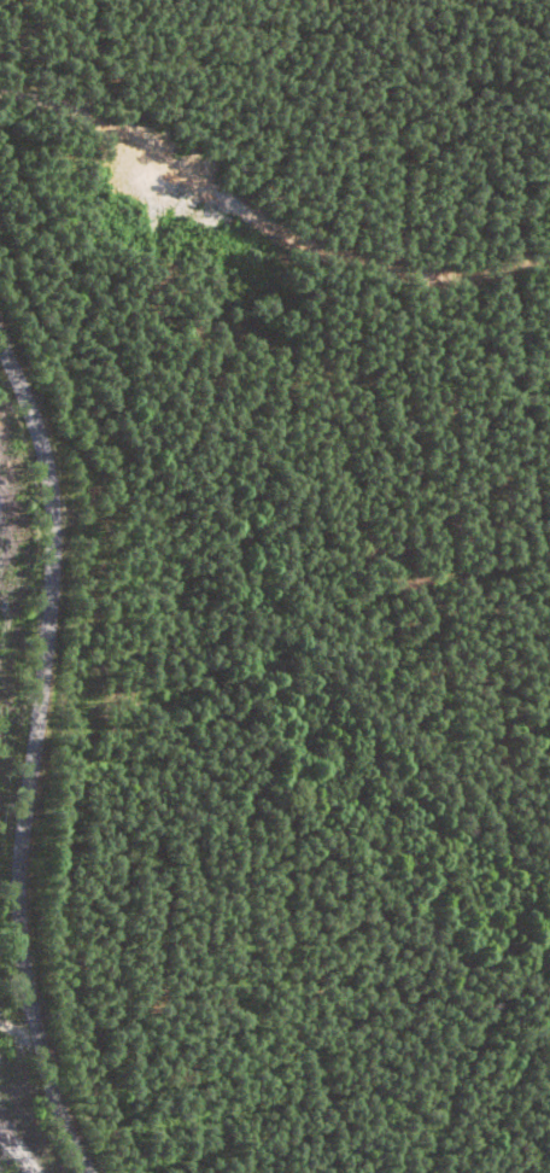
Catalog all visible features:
road: (41, 700)

